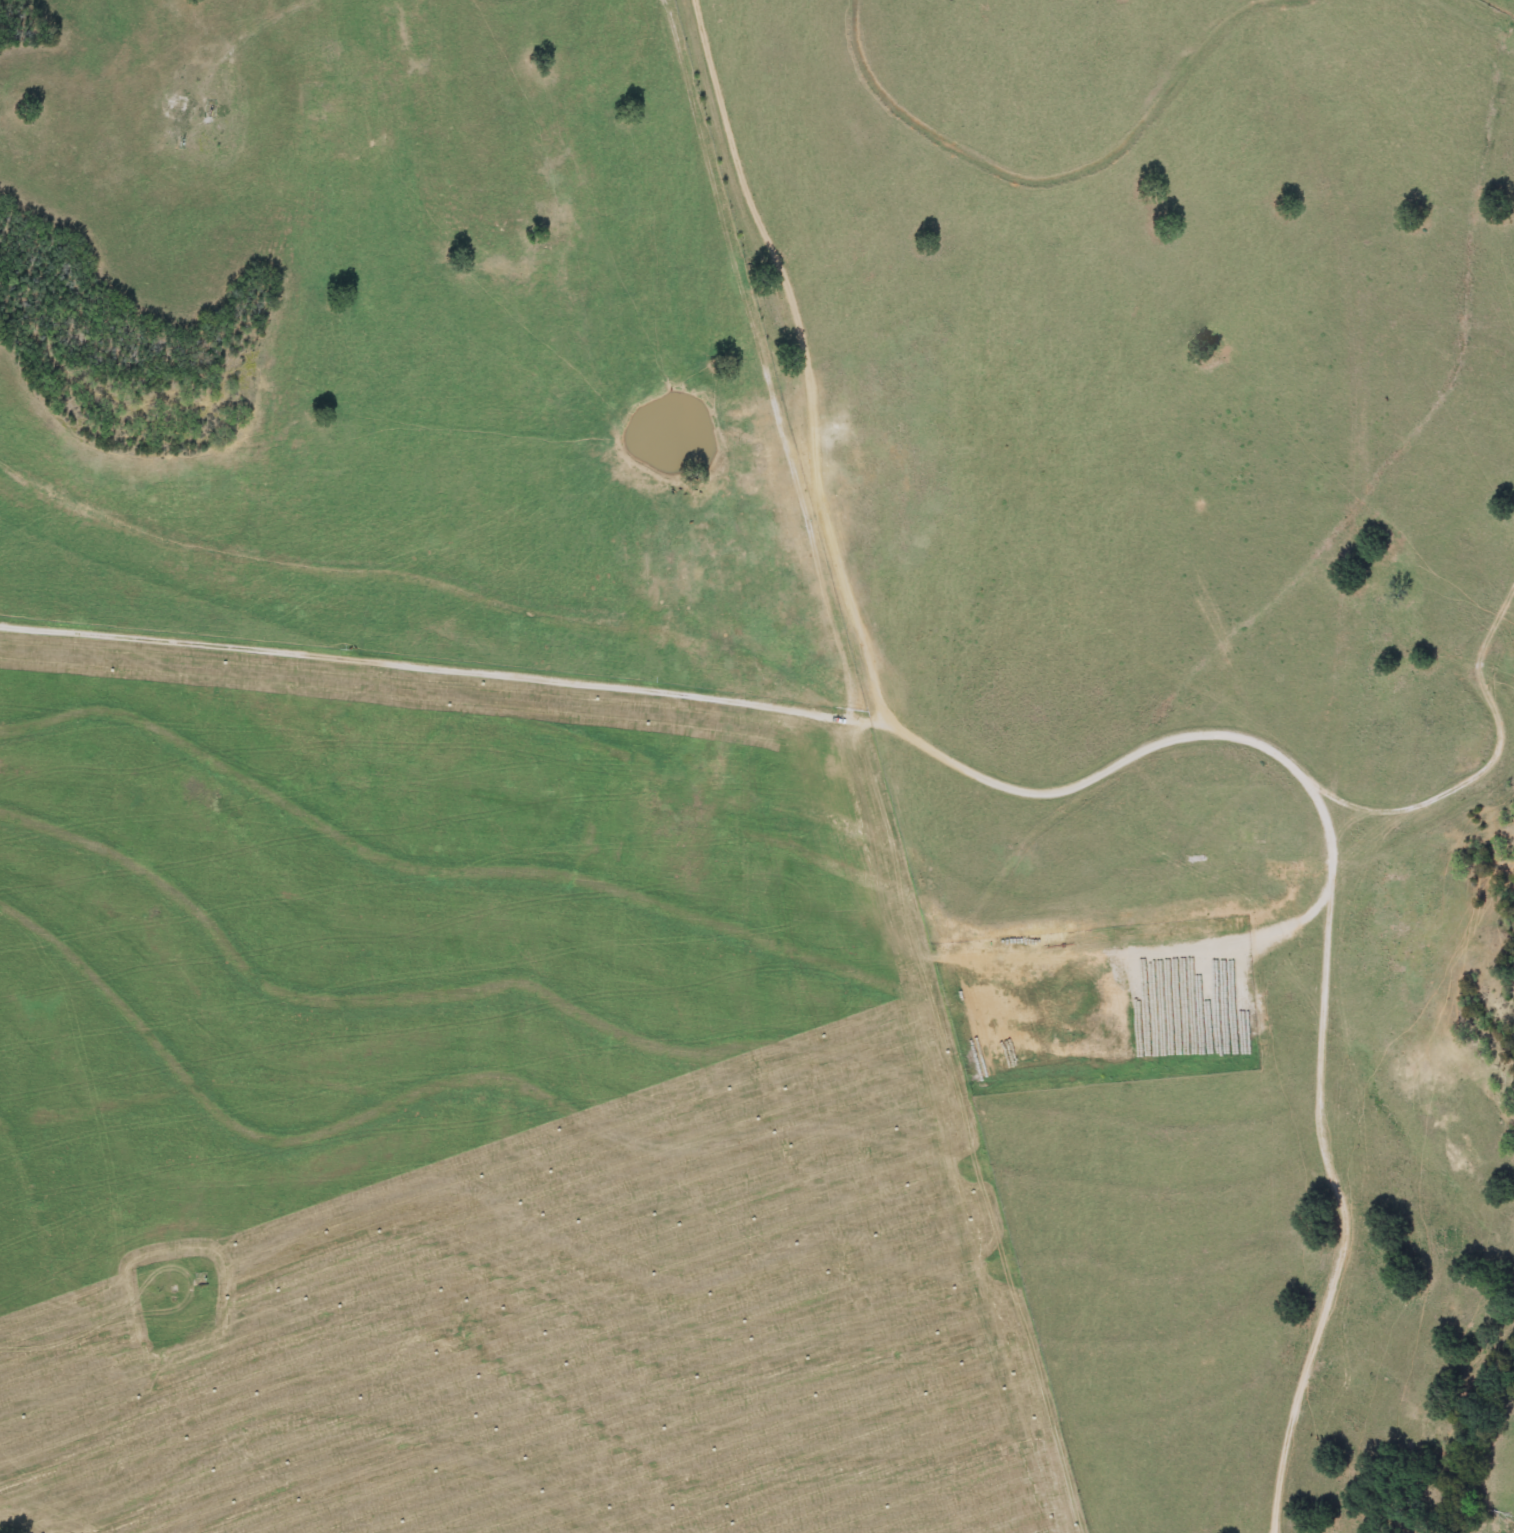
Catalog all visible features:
road: (829, 338)
road: (448, 665)

